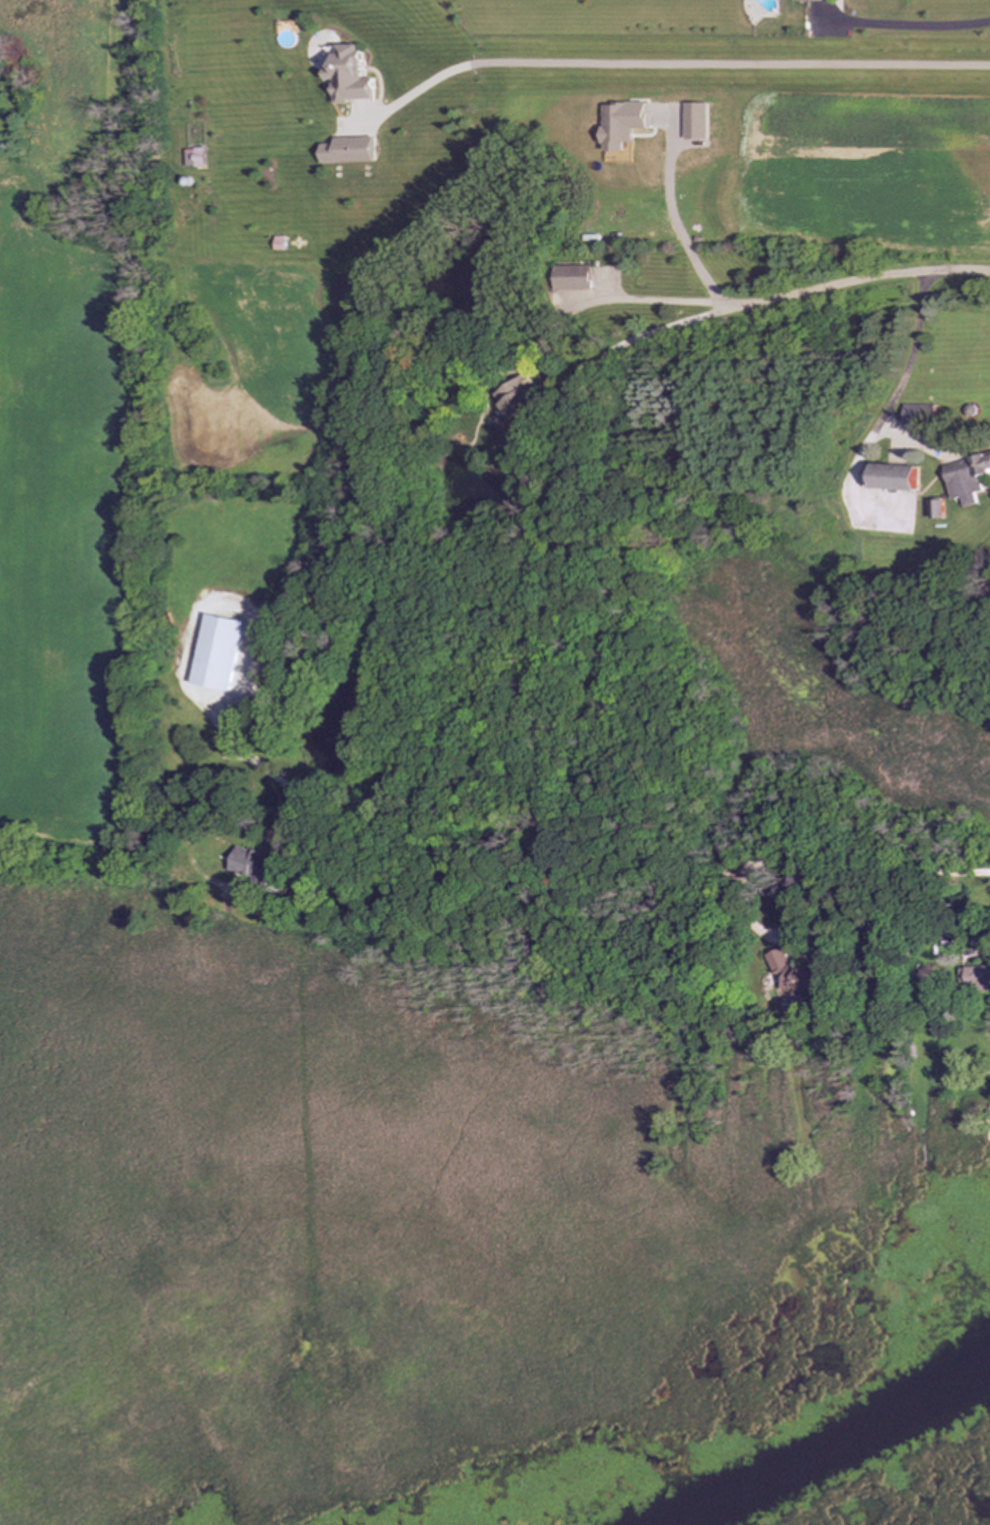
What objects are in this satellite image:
building: (809, 0)
road: (904, 25)
road: (677, 63)
building: (348, 76)
building: (696, 121)
building: (623, 124)
building: (348, 151)
building: (194, 158)
road: (678, 222)
building: (572, 277)
road: (674, 301)
road: (897, 390)
road: (577, 393)
building: (521, 399)
building: (919, 413)
road: (932, 446)
building: (895, 477)
building: (968, 478)
building: (937, 509)
crop: (61, 524)
building: (218, 652)
road: (248, 756)
road: (292, 840)
building: (259, 865)
road: (892, 874)
road: (743, 919)
building: (793, 975)
building: (977, 978)

